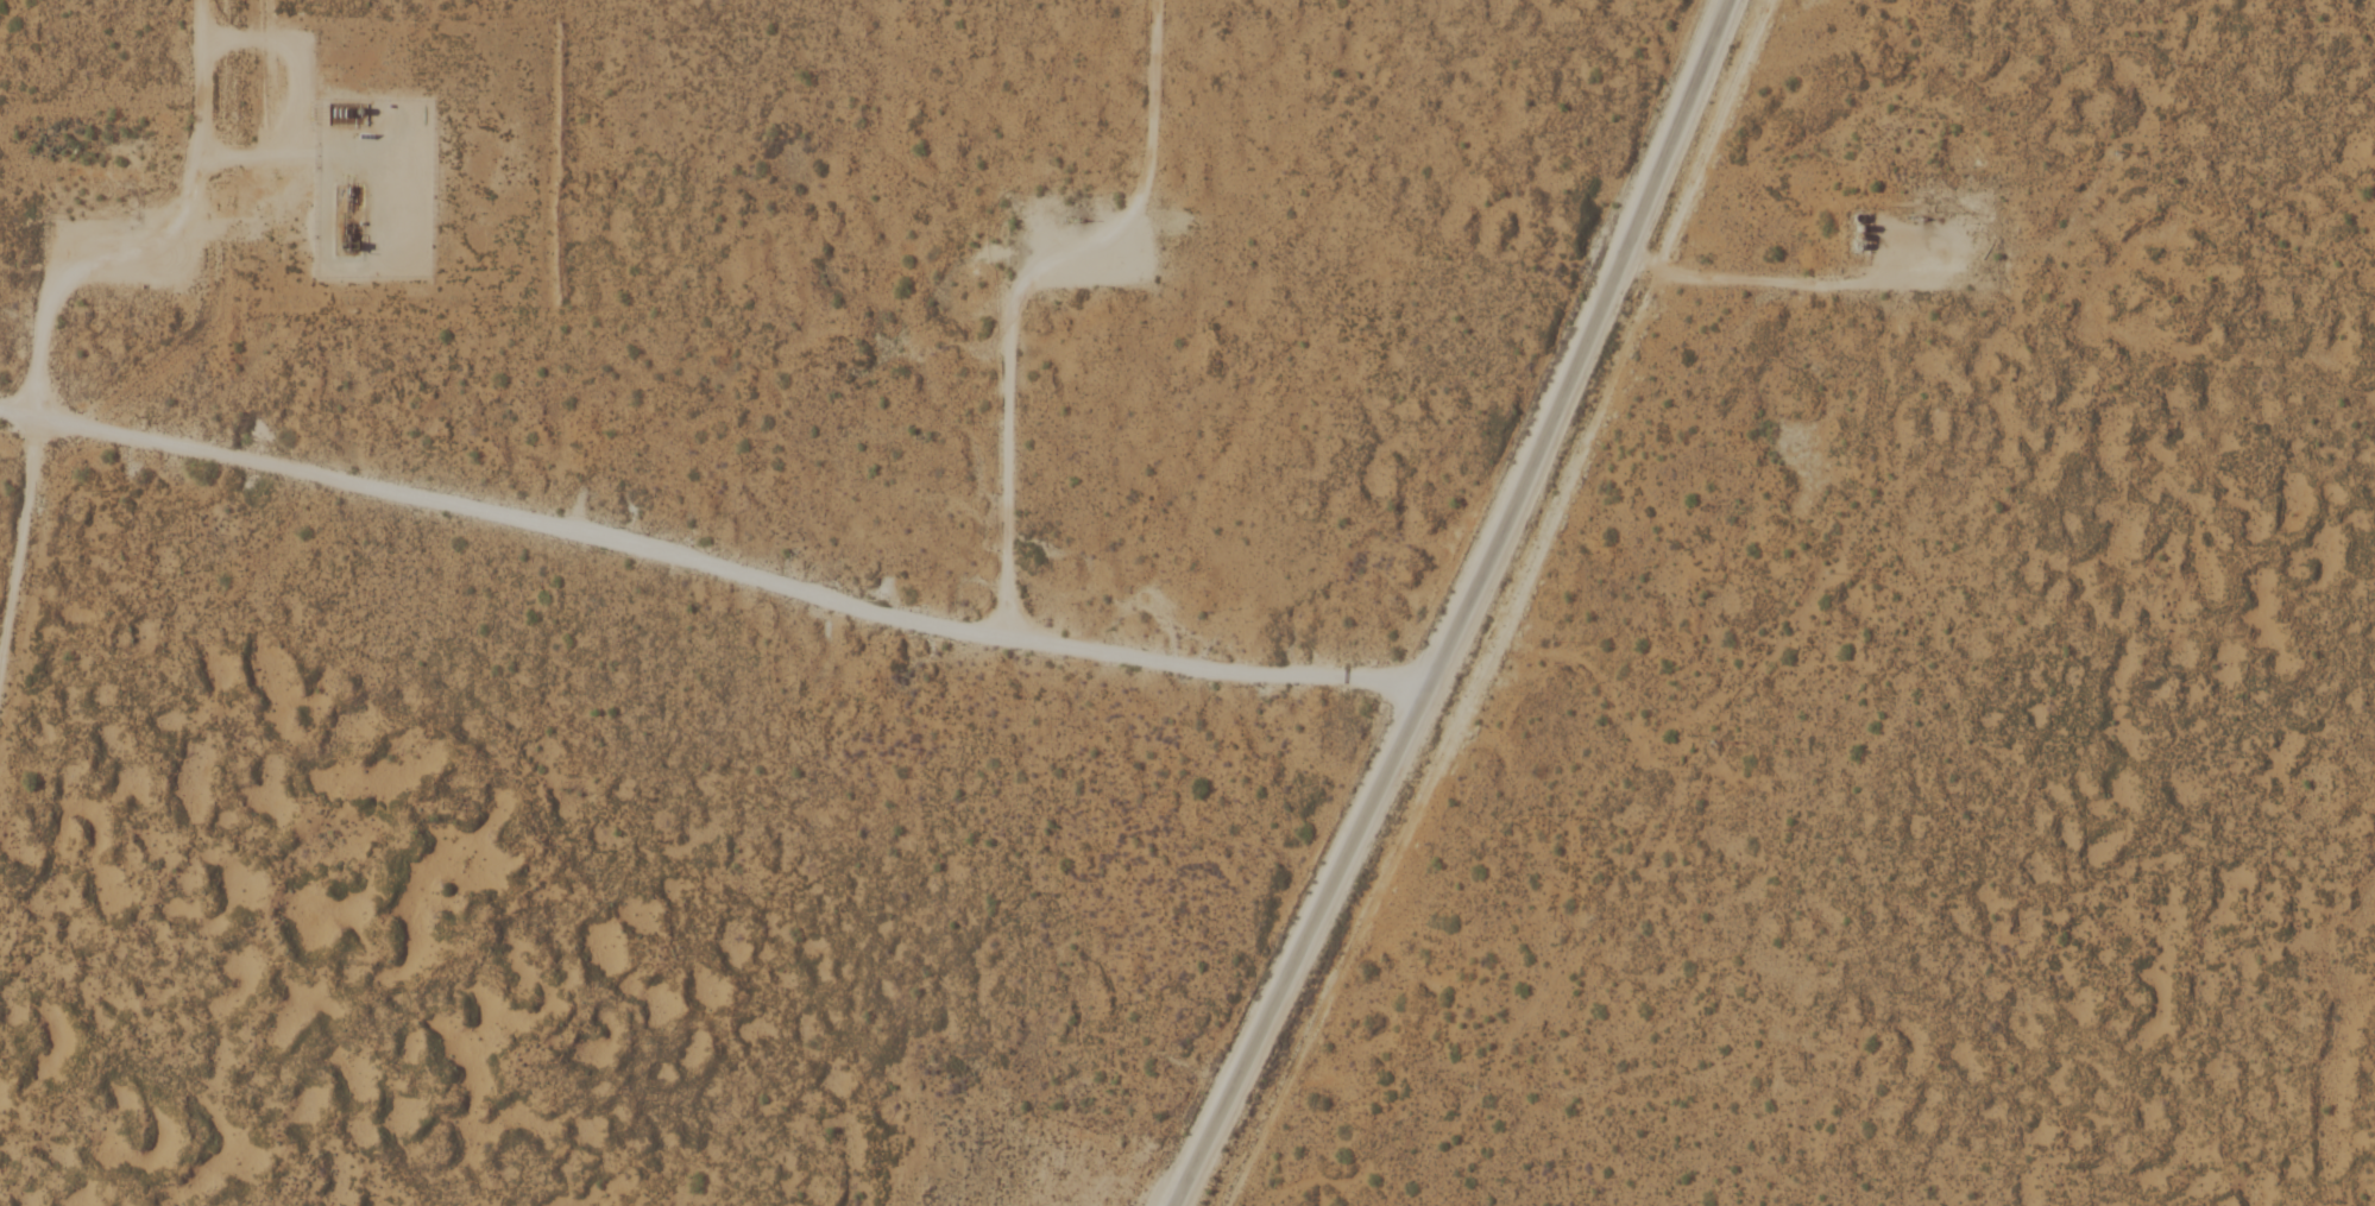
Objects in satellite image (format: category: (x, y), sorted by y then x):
road: (151, 223)
road: (1753, 282)
road: (1021, 290)
road: (20, 536)
road: (711, 573)
road: (1468, 608)

